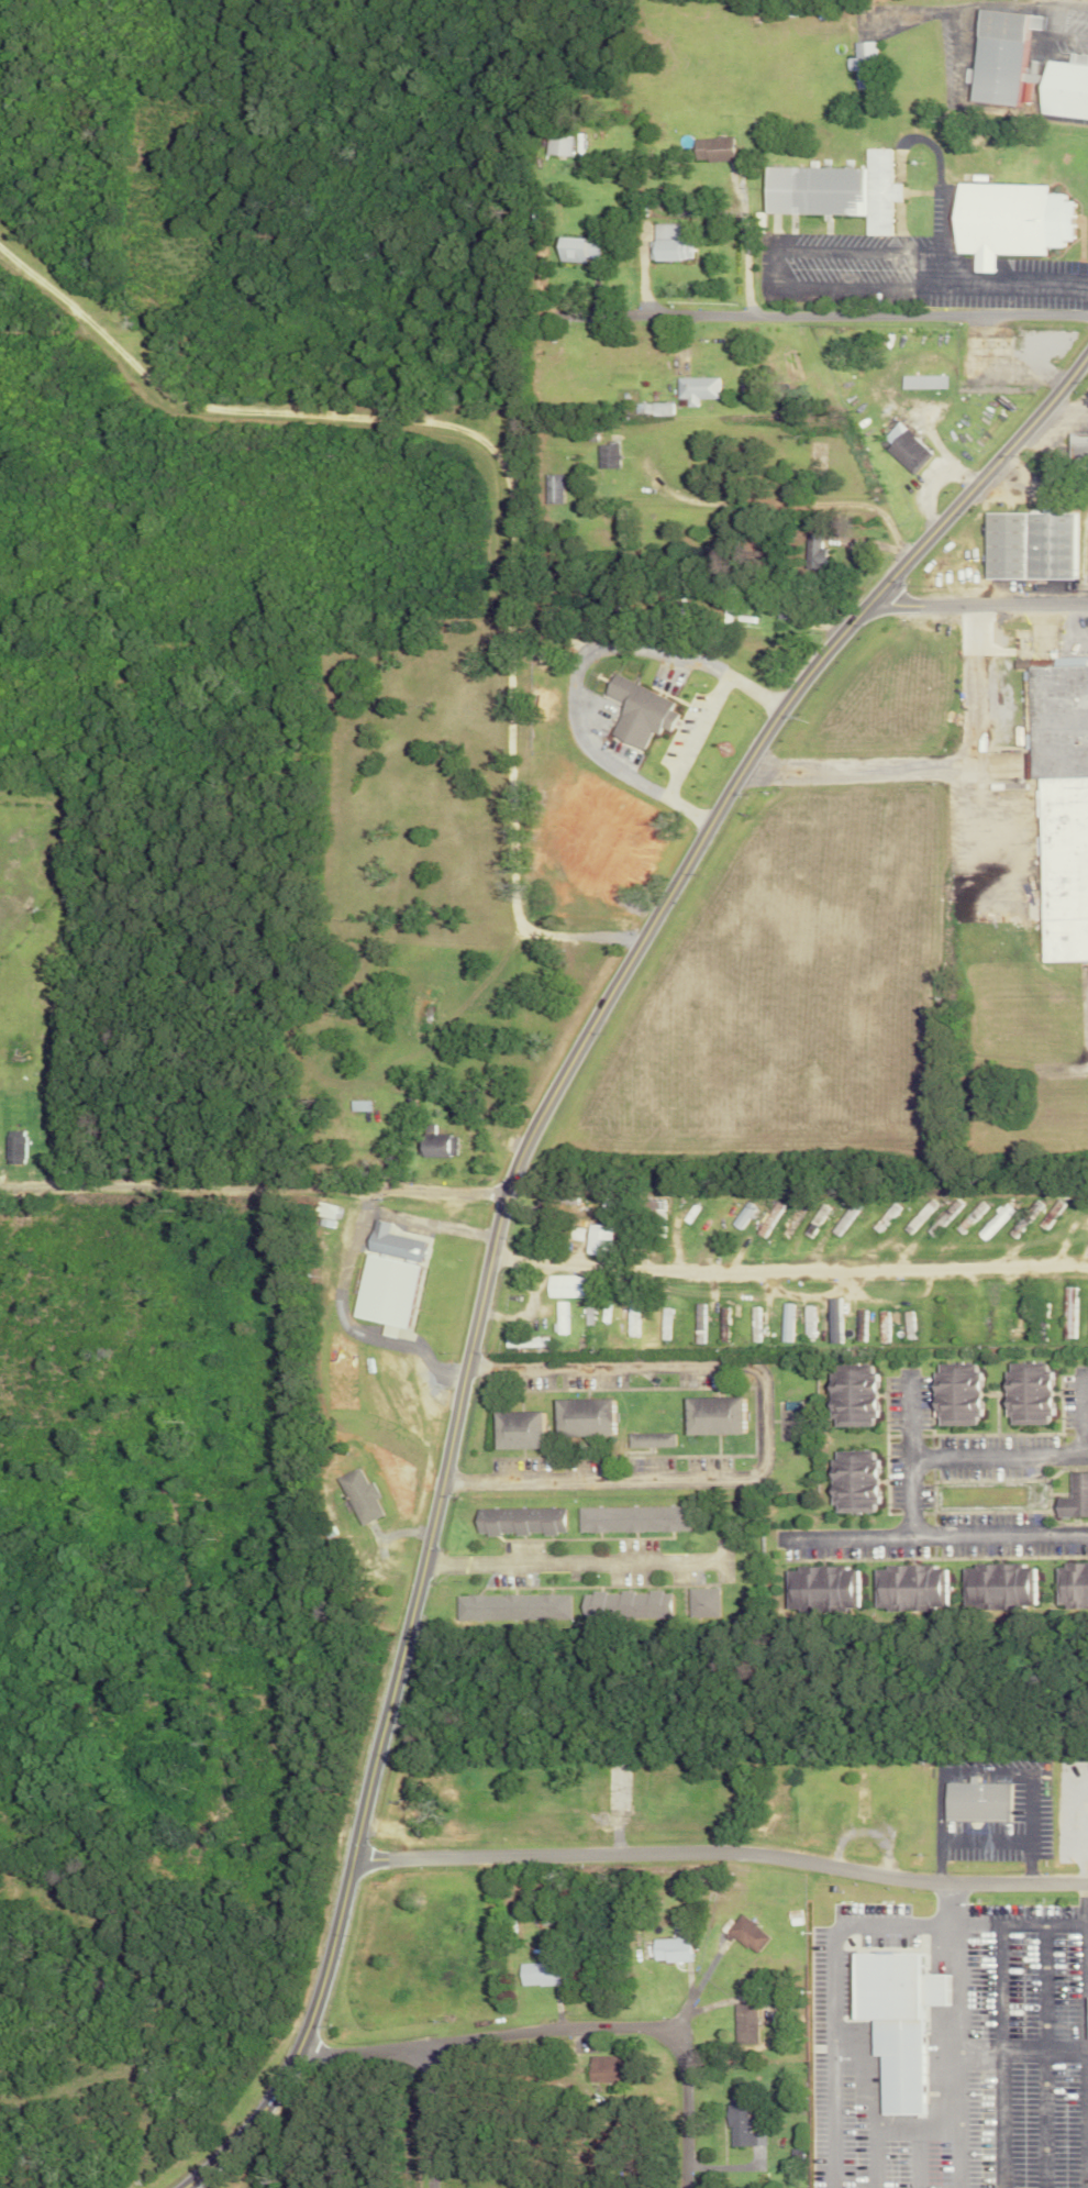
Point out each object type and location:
building: (861, 54)
building: (995, 55)
building: (1063, 87)
building: (558, 144)
building: (710, 148)
building: (831, 190)
building: (1003, 220)
road: (737, 235)
building: (667, 243)
building: (577, 248)
road: (831, 307)
building: (963, 364)
building: (921, 382)
building: (695, 388)
road: (1066, 411)
building: (1076, 445)
building: (902, 446)
building: (608, 456)
road: (501, 464)
building: (552, 488)
road: (751, 504)
building: (1087, 541)
building: (1026, 544)
road: (978, 604)
road: (589, 652)
building: (639, 711)
building: (1061, 717)
road: (685, 754)
road: (937, 760)
building: (1067, 863)
building: (362, 1105)
building: (437, 1143)
building: (18, 1149)
road: (255, 1194)
road: (506, 1211)
building: (744, 1216)
building: (993, 1223)
building: (600, 1240)
road: (790, 1259)
building: (390, 1277)
building: (1069, 1313)
building: (665, 1316)
building: (563, 1317)
building: (808, 1320)
building: (834, 1320)
building: (786, 1322)
building: (1014, 1323)
building: (755, 1325)
building: (1025, 1394)
building: (953, 1395)
building: (848, 1396)
road: (1084, 1408)
building: (710, 1416)
building: (581, 1418)
road: (906, 1418)
building: (515, 1430)
building: (651, 1440)
building: (850, 1483)
road: (593, 1487)
road: (907, 1487)
building: (358, 1495)
building: (1073, 1498)
building: (631, 1520)
building: (518, 1521)
road: (847, 1531)
road: (578, 1567)
building: (997, 1587)
building: (1070, 1587)
building: (819, 1589)
building: (909, 1589)
building: (700, 1602)
building: (623, 1605)
building: (512, 1609)
road: (954, 1772)
building: (974, 1800)
building: (862, 1803)
road: (1028, 1831)
road: (984, 1841)
road: (723, 1850)
road: (939, 1860)
road: (1085, 1922)
building: (746, 1933)
building: (668, 1949)
building: (535, 1974)
road: (834, 1988)
building: (1085, 2018)
building: (893, 2020)
building: (744, 2023)
road: (952, 2031)
road: (1081, 2033)
road: (567, 2038)
building: (600, 2070)
road: (436, 2117)
building: (740, 2122)
road: (956, 2152)
road: (875, 2158)

